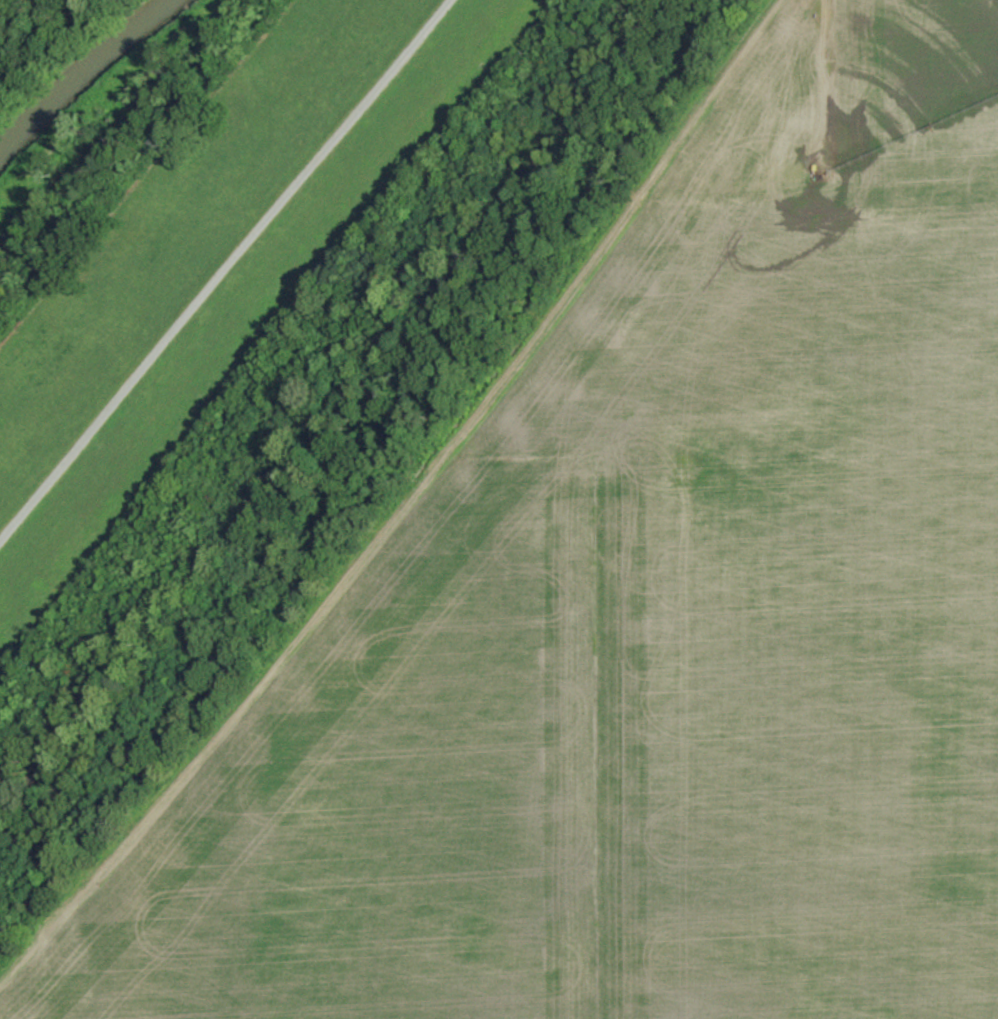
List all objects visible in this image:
road: (225, 269)
road: (406, 505)

